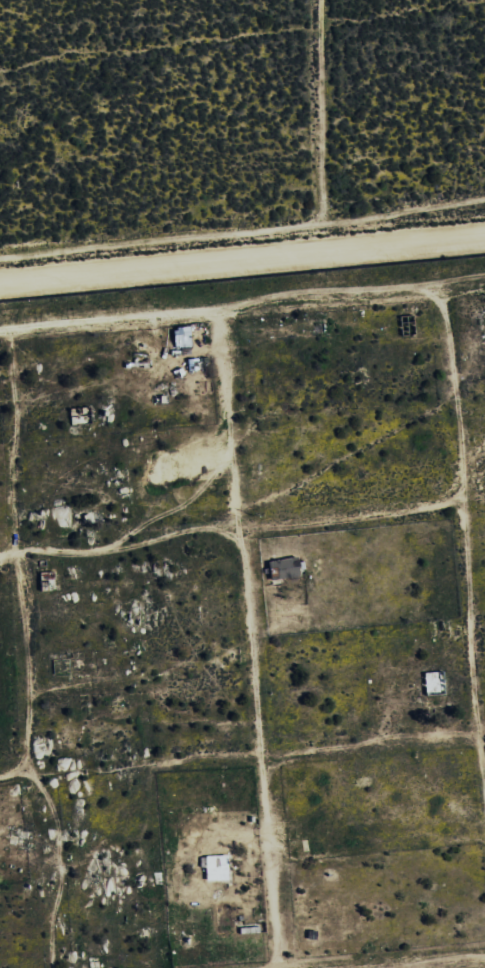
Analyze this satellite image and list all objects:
road: (242, 257)
road: (455, 278)
road: (324, 298)
road: (107, 320)
building: (180, 337)
road: (474, 500)
road: (350, 515)
road: (119, 549)
road: (465, 549)
building: (281, 568)
road: (249, 638)
road: (24, 653)
road: (480, 730)
road: (313, 748)
road: (14, 774)
building: (214, 868)
road: (404, 962)

